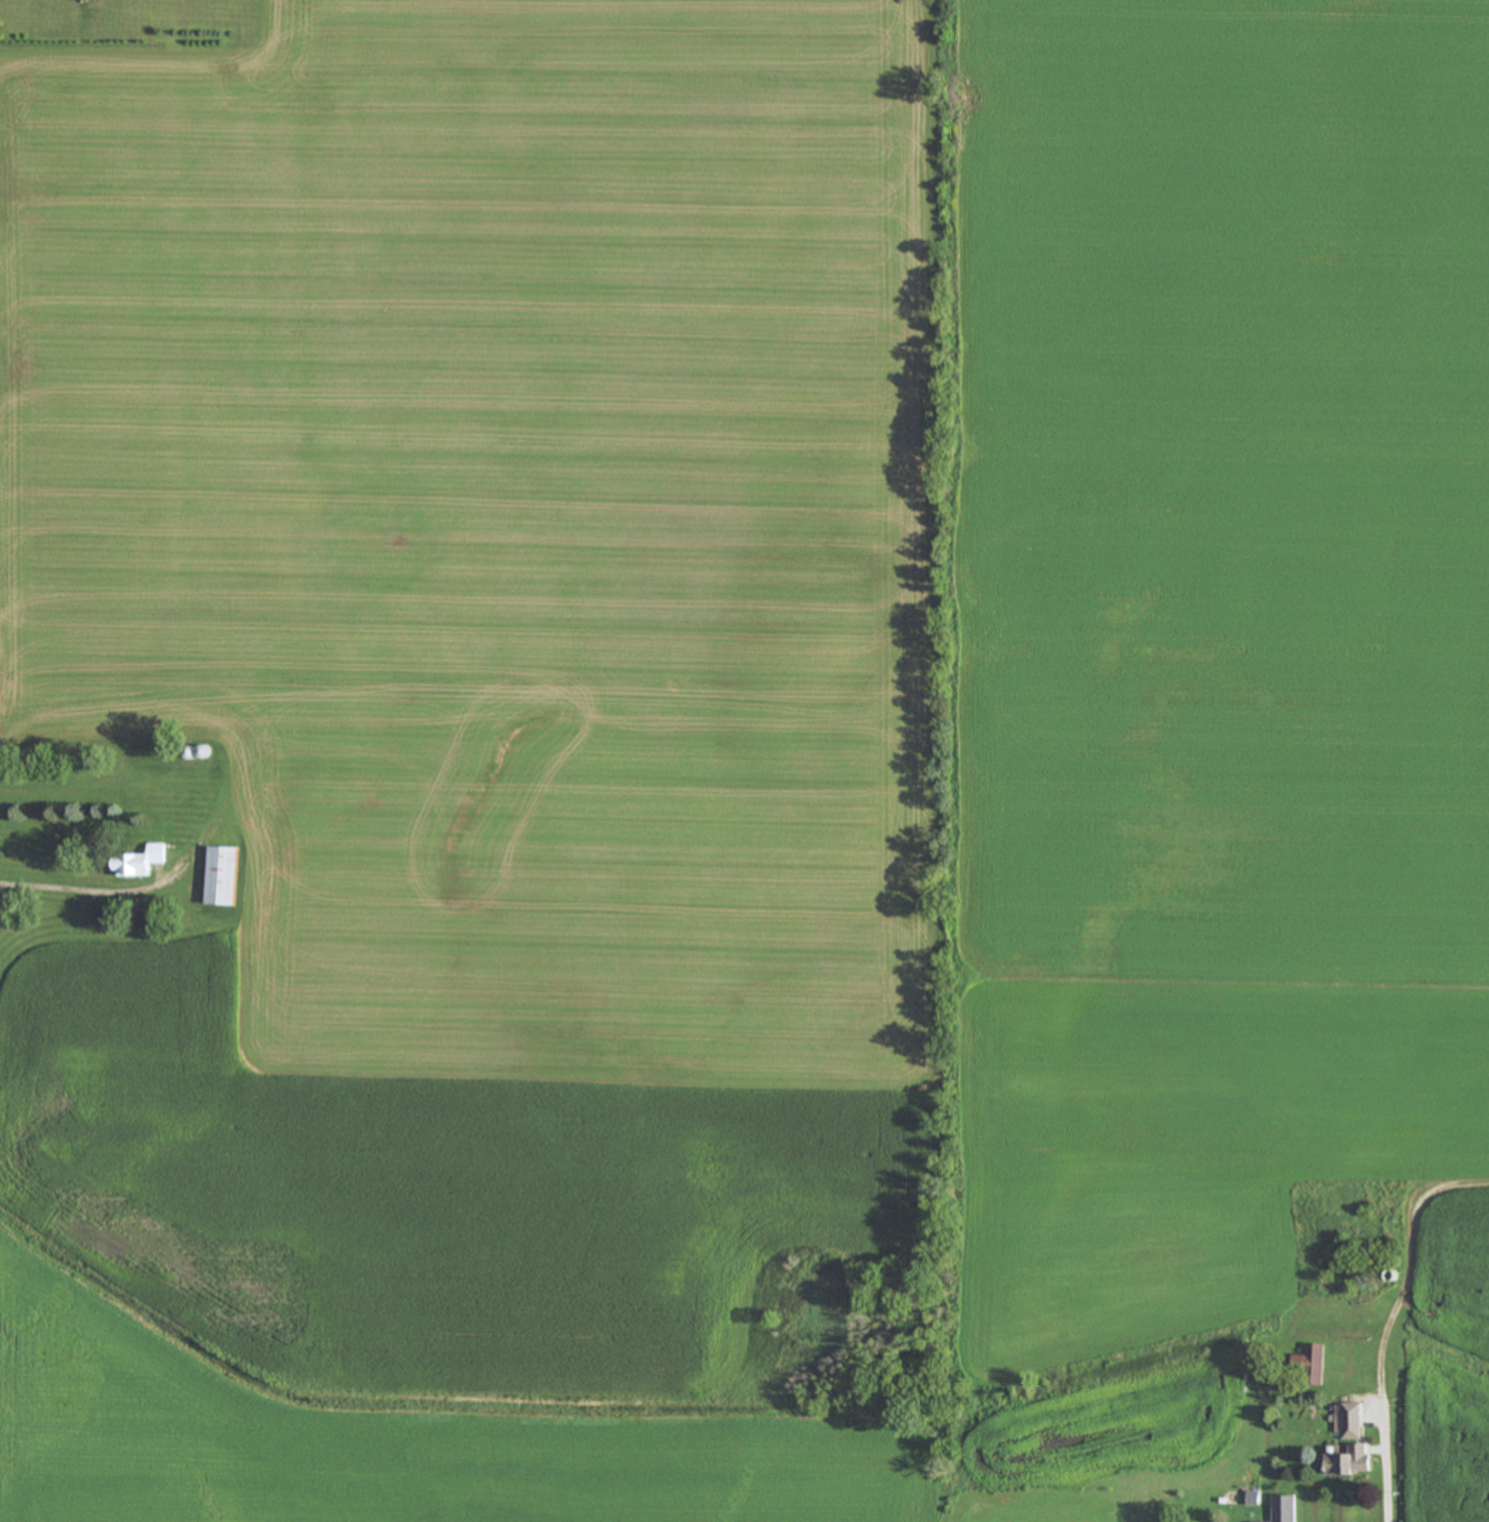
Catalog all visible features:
building: (298, 757)
building: (142, 863)
building: (224, 877)
road: (142, 885)
building: (1311, 1367)
building: (1351, 1422)
road: (1385, 1456)
building: (1352, 1462)
building: (1284, 1509)

